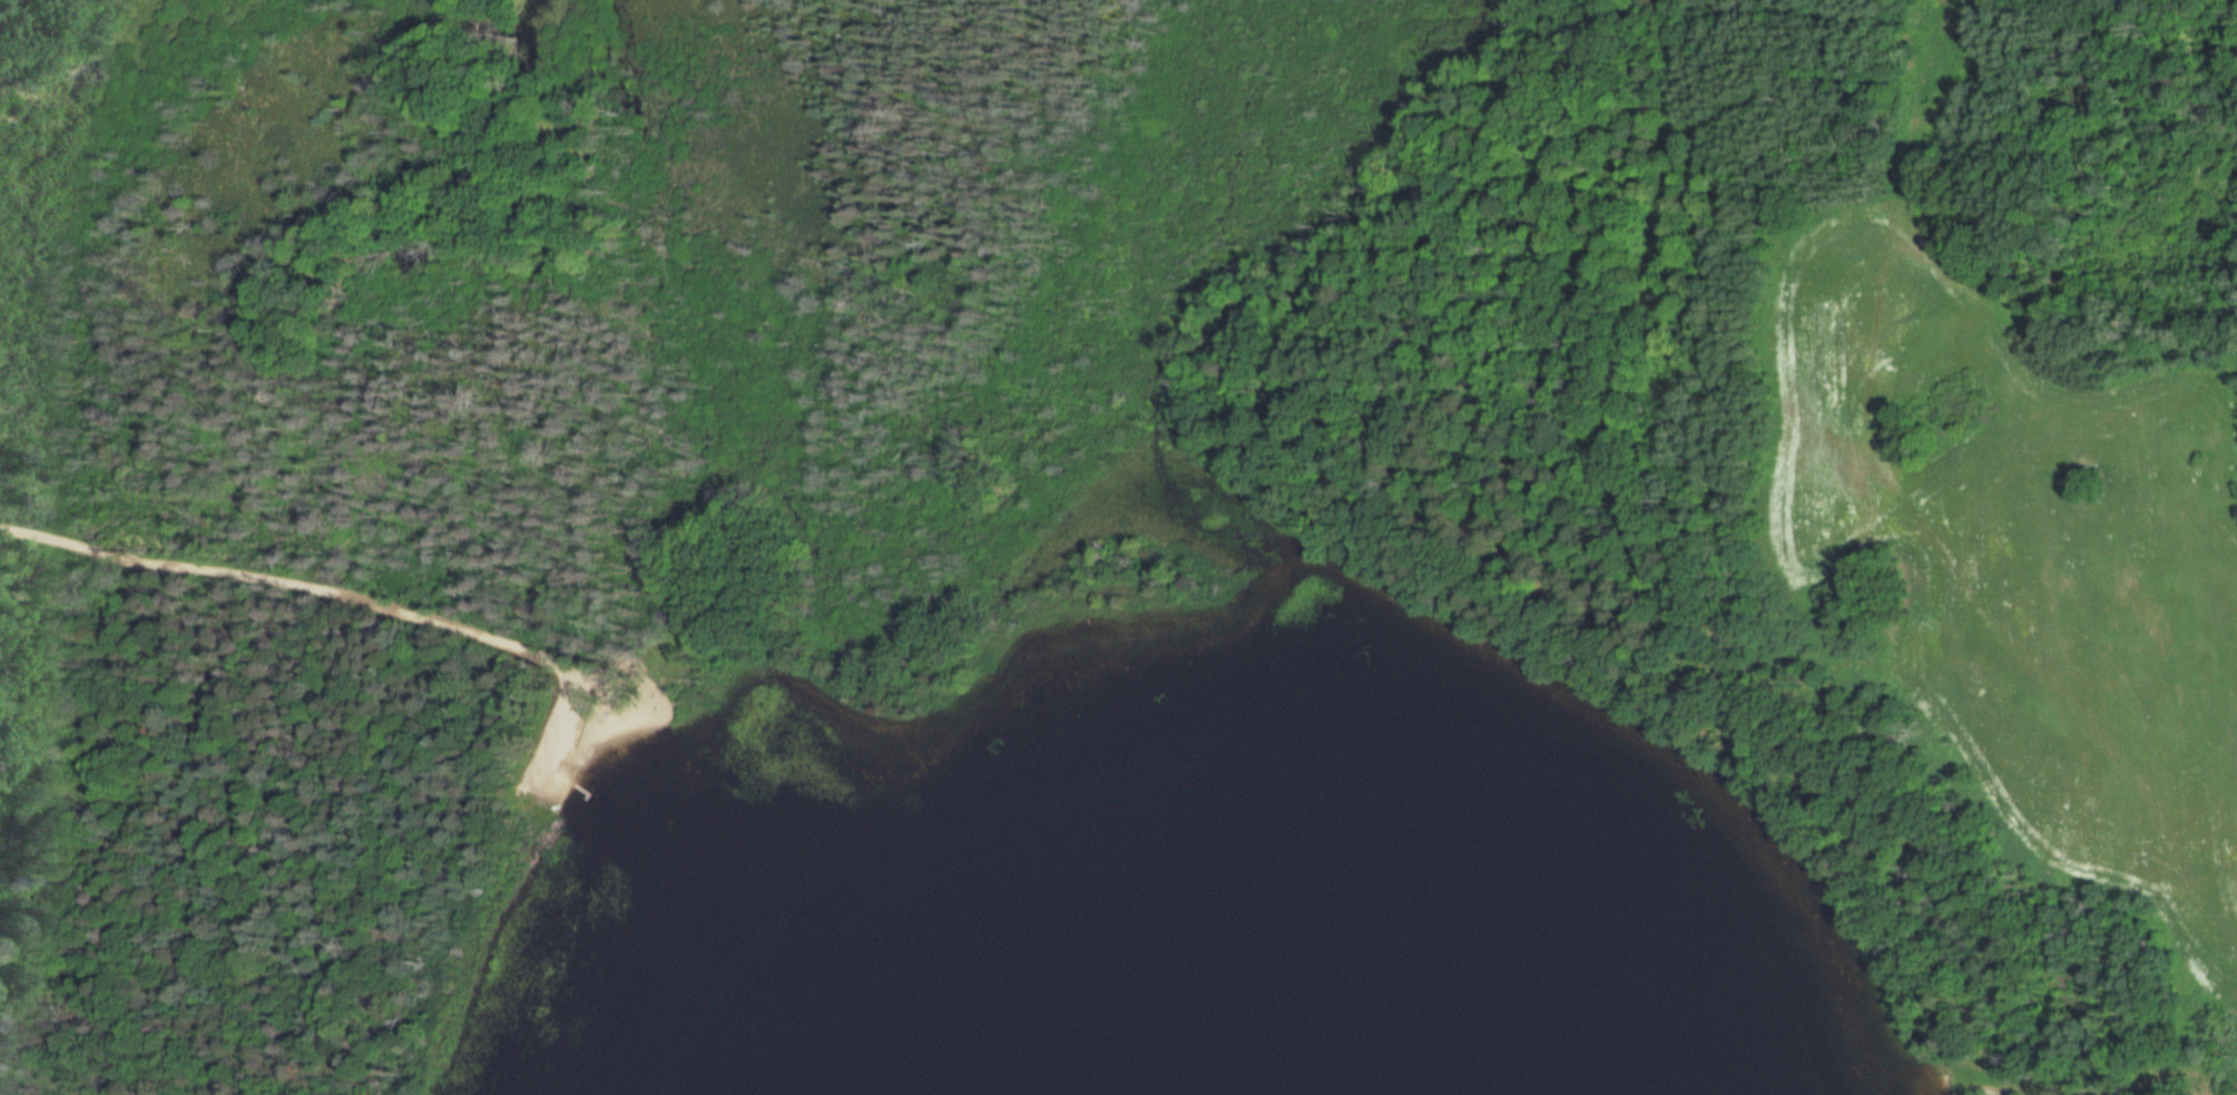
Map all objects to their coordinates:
road: (315, 635)

